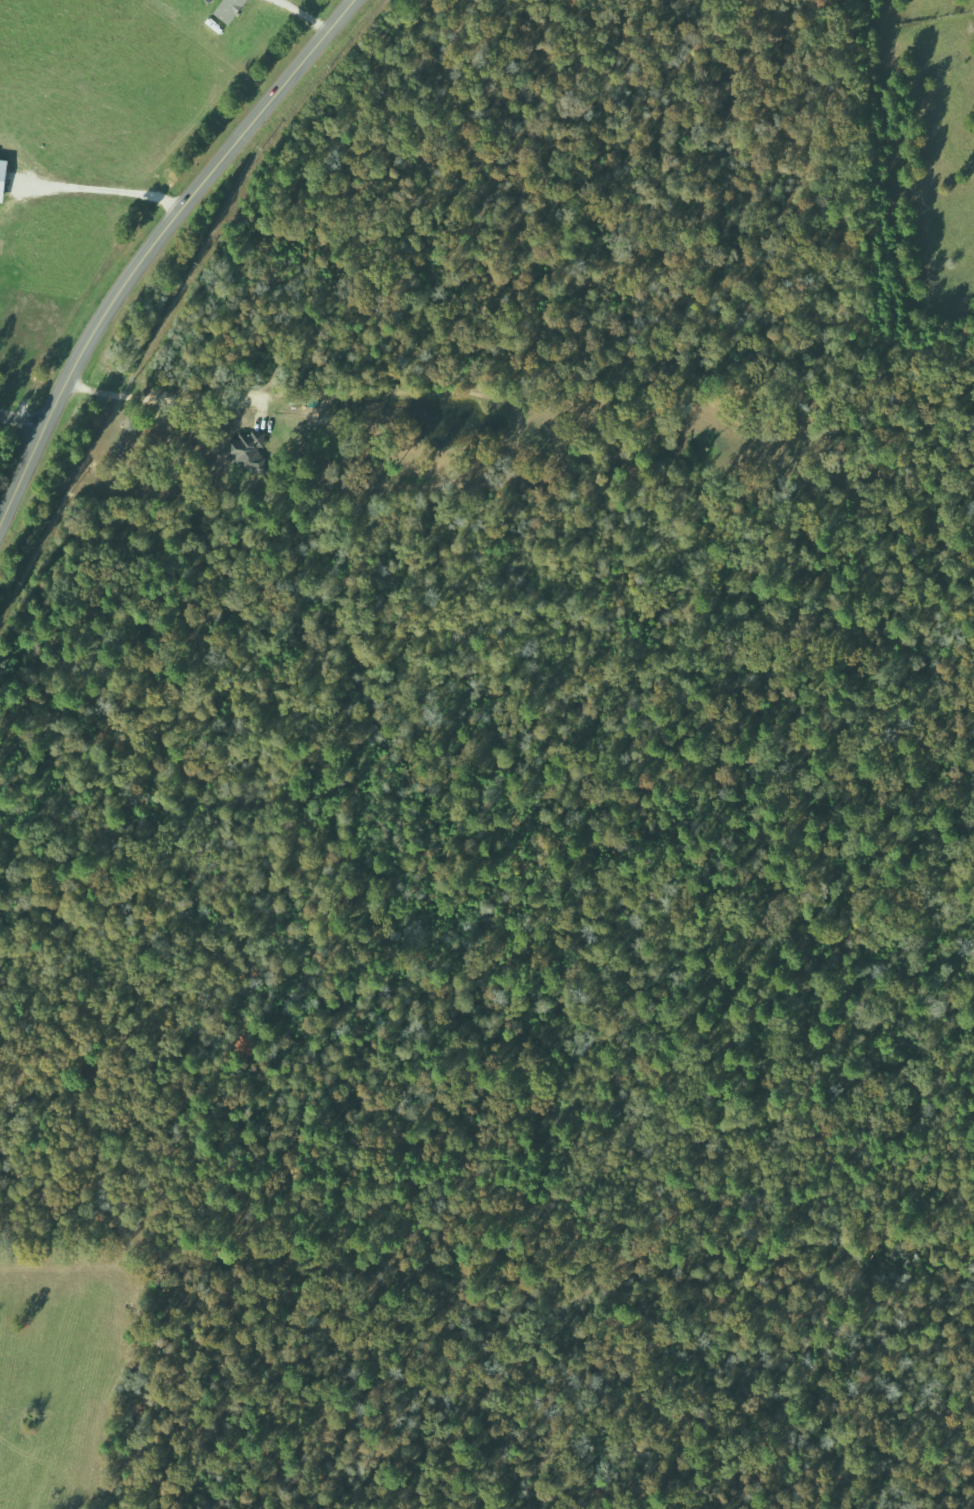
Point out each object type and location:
building: (231, 10)
building: (4, 178)
road: (153, 245)
road: (22, 419)
building: (252, 450)

